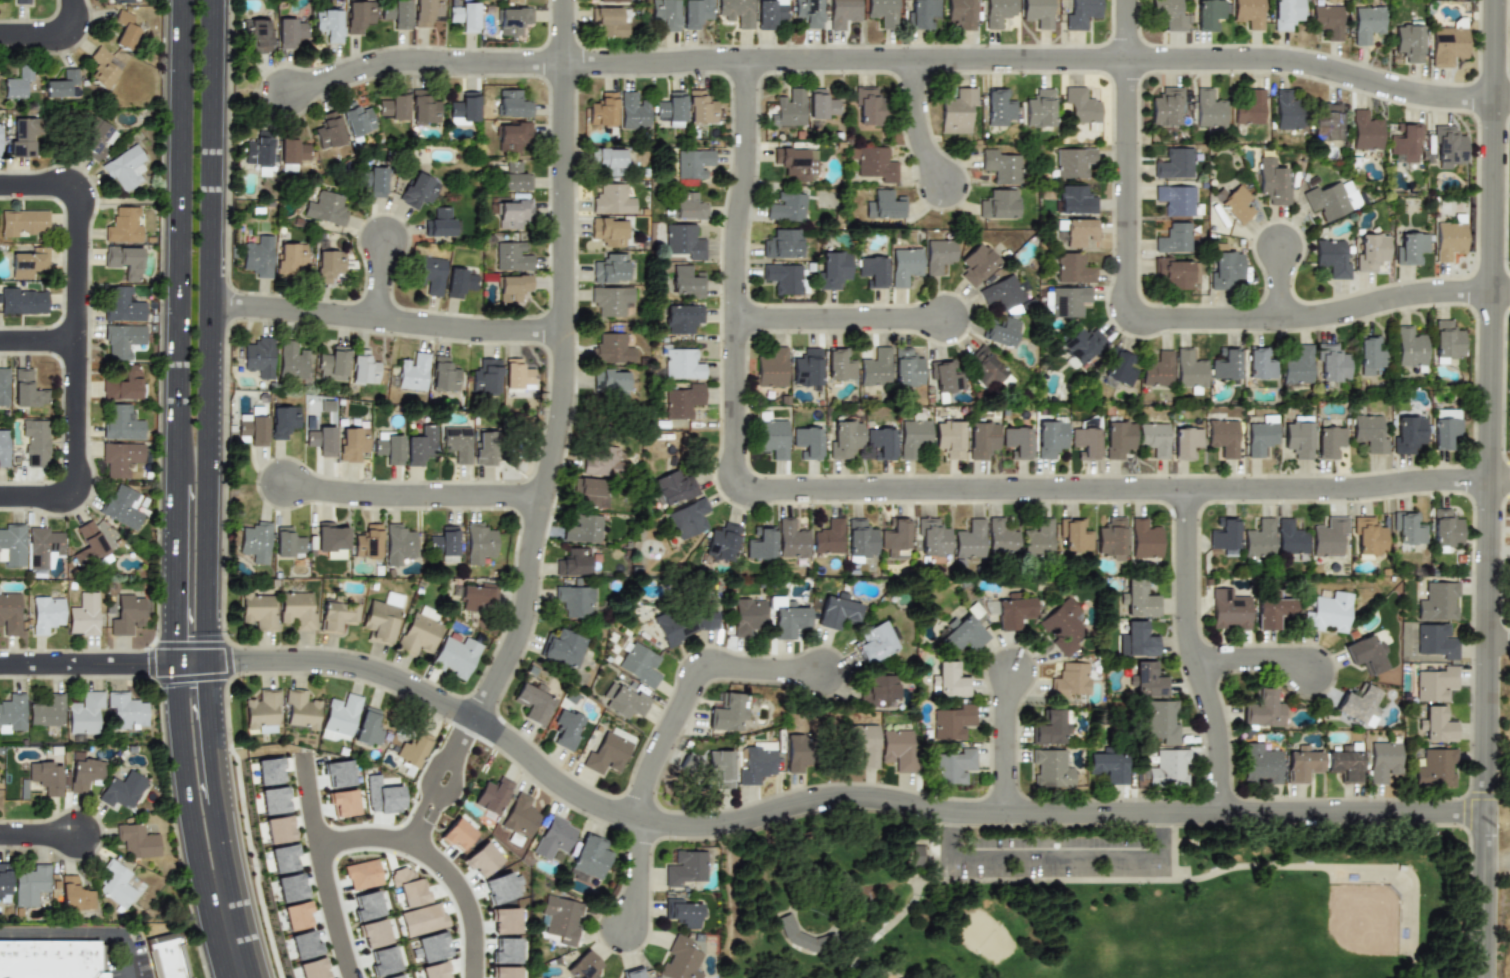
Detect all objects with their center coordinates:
building: (612, 0)
building: (21, 1)
building: (121, 1)
building: (512, 1)
building: (426, 12)
building: (736, 12)
building: (808, 12)
building: (883, 12)
building: (998, 12)
building: (1038, 12)
building: (397, 13)
building: (665, 13)
building: (695, 13)
building: (769, 13)
building: (842, 13)
building: (961, 13)
building: (1249, 13)
building: (922, 14)
building: (1082, 14)
building: (1169, 14)
building: (1209, 14)
building: (1286, 14)
building: (359, 16)
building: (465, 16)
building: (513, 20)
building: (1328, 21)
building: (608, 22)
building: (1366, 23)
building: (328, 24)
building: (125, 30)
building: (290, 32)
road: (50, 35)
building: (256, 35)
building: (1409, 42)
building: (1448, 45)
street lamp: (43, 55)
road: (892, 60)
building: (102, 67)
building: (18, 81)
building: (61, 84)
road: (1503, 99)
building: (513, 104)
building: (821, 104)
building: (867, 105)
building: (1081, 105)
building: (393, 107)
building: (999, 107)
building: (1166, 107)
building: (423, 108)
building: (700, 108)
building: (789, 108)
building: (1039, 108)
building: (1249, 108)
building: (464, 109)
building: (671, 109)
building: (1208, 109)
building: (603, 110)
building: (1286, 110)
building: (633, 111)
building: (957, 111)
building: (356, 119)
building: (1327, 122)
road: (919, 124)
building: (328, 131)
building: (1365, 131)
building: (22, 137)
building: (96, 137)
building: (513, 137)
building: (0, 140)
building: (1405, 142)
building: (1448, 146)
building: (293, 151)
building: (608, 160)
building: (1073, 162)
building: (693, 163)
building: (796, 163)
building: (874, 163)
building: (1174, 164)
street lamp: (54, 165)
building: (1000, 166)
building: (125, 168)
building: (515, 177)
building: (372, 181)
building: (1272, 182)
building: (418, 190)
building: (1332, 199)
building: (612, 200)
building: (1075, 200)
building: (1175, 200)
road: (129, 202)
building: (1234, 203)
building: (998, 204)
building: (884, 205)
building: (688, 206)
building: (787, 207)
building: (325, 208)
building: (513, 214)
building: (23, 222)
building: (439, 222)
building: (124, 224)
building: (608, 231)
building: (1077, 231)
building: (1174, 238)
building: (1449, 240)
building: (683, 241)
building: (782, 244)
street lamp: (94, 245)
building: (1411, 248)
building: (1370, 251)
building: (938, 255)
building: (258, 256)
building: (512, 256)
building: (290, 258)
building: (1332, 258)
building: (126, 260)
building: (28, 261)
building: (977, 264)
building: (328, 266)
building: (904, 266)
building: (610, 268)
building: (1073, 268)
building: (832, 269)
building: (872, 271)
building: (1175, 273)
building: (430, 274)
building: (783, 277)
road: (381, 281)
building: (686, 281)
building: (459, 283)
road: (1282, 283)
building: (513, 287)
road: (1501, 292)
building: (1003, 294)
building: (23, 300)
building: (610, 300)
building: (1069, 301)
building: (123, 303)
road: (1156, 316)
building: (682, 318)
road: (842, 319)
road: (387, 320)
building: (1002, 332)
building: (1447, 339)
road: (77, 340)
building: (123, 340)
road: (38, 341)
building: (1082, 345)
building: (1410, 347)
building: (611, 349)
building: (259, 357)
building: (293, 360)
building: (1332, 363)
building: (333, 364)
building: (682, 364)
building: (840, 364)
building: (1225, 364)
building: (1259, 364)
road: (565, 366)
building: (1298, 366)
building: (876, 367)
building: (907, 367)
building: (984, 367)
building: (363, 368)
building: (807, 368)
building: (1119, 368)
building: (772, 369)
building: (1158, 369)
building: (1189, 370)
building: (413, 372)
street lamp: (62, 374)
building: (444, 374)
building: (517, 374)
building: (944, 375)
building: (486, 376)
building: (610, 382)
building: (123, 383)
building: (4, 386)
building: (28, 389)
building: (683, 401)
building: (1446, 414)
building: (283, 421)
building: (121, 422)
building: (252, 429)
building: (1369, 433)
building: (1446, 433)
building: (1409, 434)
building: (1261, 435)
building: (912, 436)
building: (1223, 437)
building: (949, 438)
building: (1050, 438)
building: (1154, 438)
building: (845, 439)
building: (981, 439)
building: (1118, 439)
building: (1298, 439)
building: (321, 440)
building: (35, 441)
building: (457, 442)
building: (807, 442)
building: (1017, 442)
building: (1185, 442)
building: (1329, 442)
building: (352, 443)
building: (881, 443)
building: (1085, 443)
building: (421, 445)
road: (207, 446)
building: (4, 447)
building: (389, 447)
building: (486, 448)
road: (176, 449)
building: (121, 458)
building: (601, 462)
road: (1500, 480)
street lamp: (13, 481)
street lamp: (98, 481)
building: (674, 486)
road: (1490, 488)
road: (903, 490)
building: (590, 491)
road: (415, 497)
building: (123, 506)
building: (688, 518)
building: (1445, 527)
building: (1408, 528)
building: (582, 529)
building: (1074, 535)
building: (1225, 536)
building: (1368, 536)
building: (828, 537)
building: (932, 537)
building: (1001, 537)
building: (1111, 537)
building: (1328, 537)
building: (860, 538)
building: (895, 538)
building: (1038, 538)
building: (1290, 538)
building: (791, 539)
building: (970, 539)
building: (1145, 539)
building: (1259, 539)
building: (91, 540)
building: (332, 540)
building: (256, 542)
building: (288, 542)
building: (368, 542)
building: (479, 542)
building: (722, 542)
building: (445, 543)
building: (398, 544)
building: (761, 544)
building: (12, 545)
building: (44, 545)
building: (574, 562)
building: (476, 597)
building: (1138, 599)
building: (574, 601)
building: (1437, 601)
building: (297, 610)
building: (1229, 610)
building: (258, 611)
building: (836, 611)
building: (10, 612)
building: (1012, 612)
building: (1272, 612)
building: (1327, 612)
building: (46, 613)
building: (428, 613)
building: (83, 614)
building: (126, 614)
building: (336, 615)
building: (748, 617)
building: (789, 619)
building: (380, 620)
building: (682, 625)
building: (1062, 627)
building: (418, 634)
traffic signals: (175, 635)
street lamp: (230, 635)
building: (962, 635)
building: (1136, 640)
building: (874, 641)
building: (1436, 641)
road: (1499, 641)
street lamp: (148, 647)
building: (564, 648)
street lamp: (68, 649)
road: (1194, 652)
building: (1366, 654)
building: (456, 656)
road: (1255, 659)
traffic signals: (237, 660)
road: (103, 663)
traffic signals: (144, 663)
building: (639, 664)
building: (950, 680)
building: (1070, 680)
building: (1148, 680)
building: (1435, 684)
street lamp: (234, 686)
traffic signals: (207, 687)
road: (693, 689)
street lamp: (158, 690)
building: (878, 691)
building: (624, 701)
building: (533, 703)
building: (1359, 706)
building: (301, 709)
building: (1263, 710)
building: (127, 711)
building: (47, 712)
building: (263, 712)
building: (12, 713)
building: (727, 713)
building: (85, 715)
building: (340, 717)
street lamp: (443, 721)
building: (1160, 721)
building: (953, 722)
building: (1438, 725)
building: (368, 728)
building: (566, 728)
building: (1051, 728)
road: (1008, 742)
building: (864, 744)
building: (413, 749)
building: (898, 749)
building: (607, 753)
building: (795, 753)
building: (1383, 760)
building: (757, 763)
building: (1260, 764)
building: (691, 765)
building: (1302, 765)
building: (954, 766)
building: (1108, 766)
building: (721, 767)
building: (1168, 768)
building: (1435, 768)
building: (1051, 769)
street lamp: (167, 770)
building: (269, 771)
road: (447, 771)
building: (86, 772)
building: (338, 773)
building: (45, 776)
road: (437, 777)
road: (448, 782)
building: (123, 789)
road: (436, 794)
building: (492, 795)
road: (308, 796)
building: (383, 796)
road: (824, 799)
building: (274, 800)
building: (343, 802)
building: (520, 816)
building: (279, 829)
road: (360, 834)
building: (457, 834)
road: (39, 835)
building: (554, 837)
building: (138, 840)
street lamp: (103, 848)
building: (916, 854)
building: (590, 857)
building: (284, 858)
building: (482, 859)
road: (1058, 859)
street lamp: (253, 865)
building: (686, 868)
road: (641, 873)
building: (362, 874)
building: (5, 883)
building: (32, 884)
building: (118, 884)
building: (290, 887)
building: (502, 887)
building: (409, 888)
building: (75, 893)
road: (463, 896)
park: (1090, 901)
building: (367, 905)
road: (329, 909)
building: (682, 913)
building: (297, 915)
building: (562, 918)
building: (422, 919)
building: (505, 921)
road: (230, 933)
building: (374, 933)
building: (797, 935)
road: (64, 937)
building: (304, 944)
building: (433, 947)
building: (506, 951)
building: (166, 959)
building: (48, 960)
building: (384, 960)
building: (680, 960)
road: (128, 963)
building: (583, 966)
building: (313, 969)
building: (435, 970)
building: (505, 972)
building: (634, 973)
building: (395, 976)

